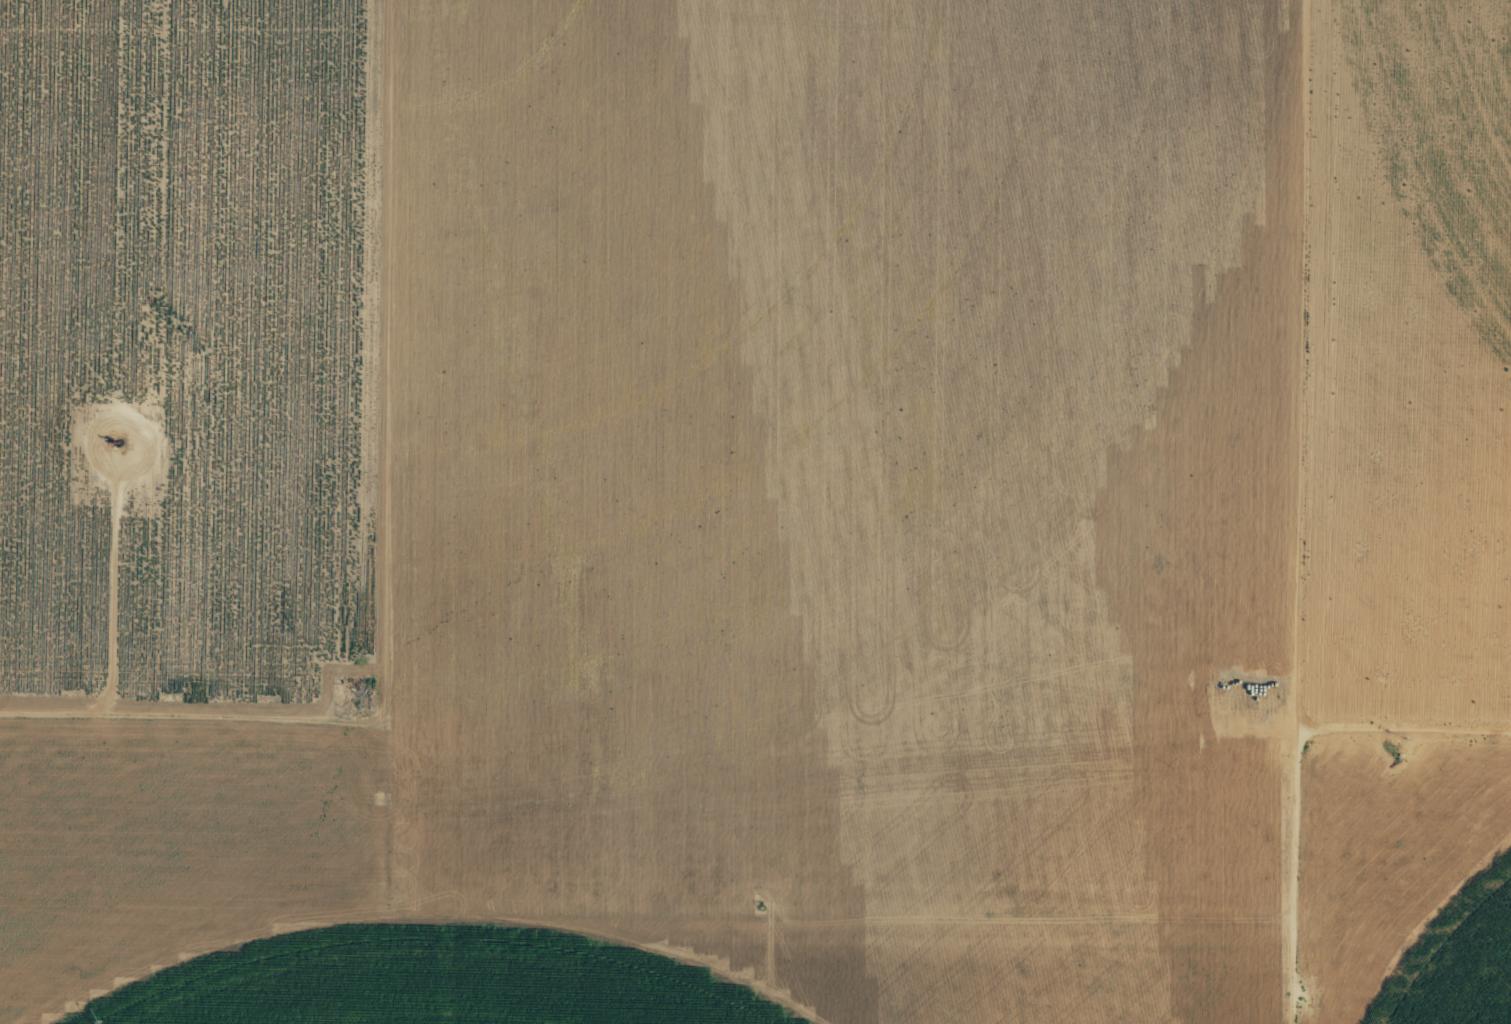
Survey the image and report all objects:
petroleum well: (111, 442)
road: (1311, 512)
road: (1409, 727)
road: (202, 757)
road: (409, 897)

